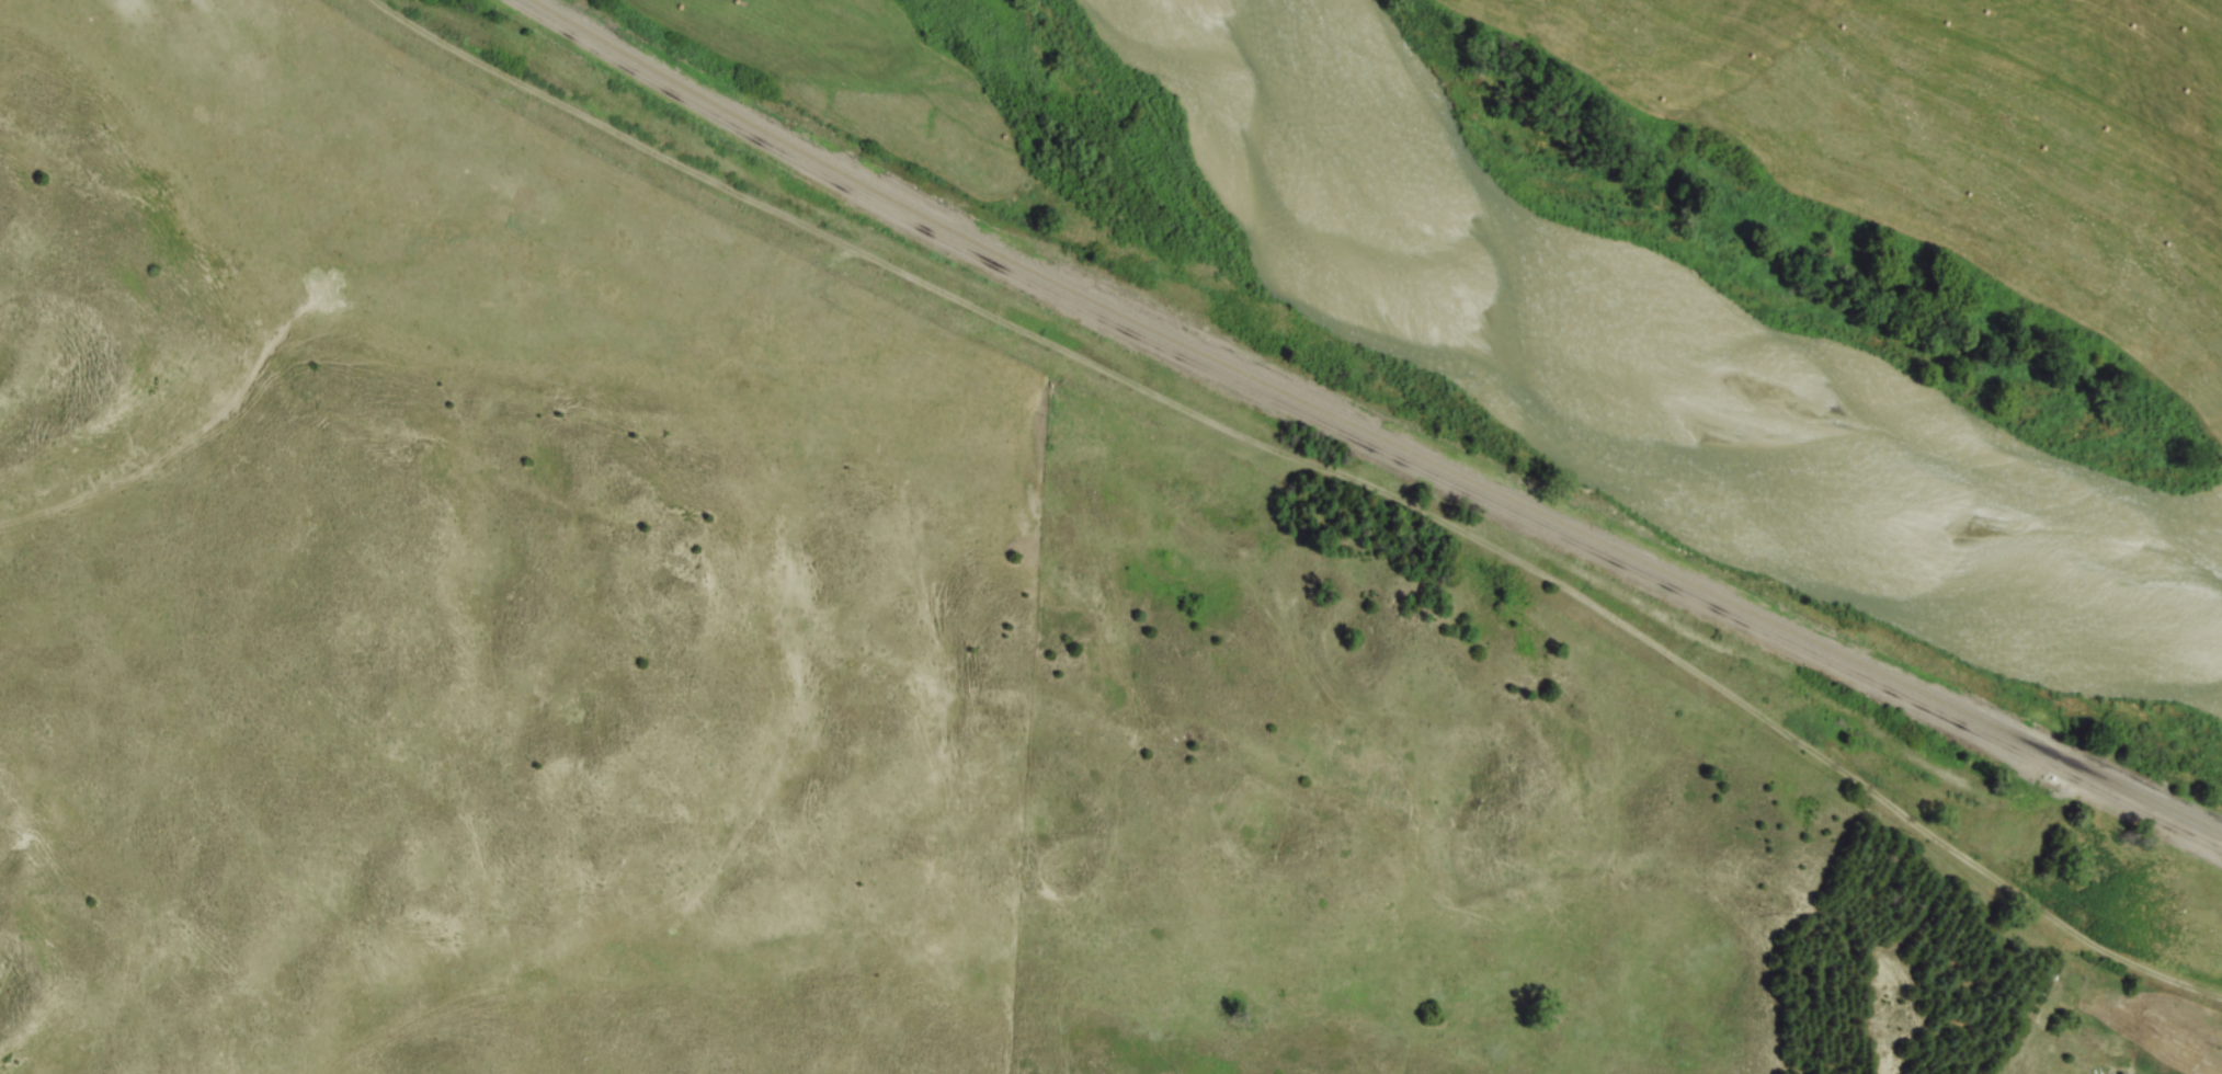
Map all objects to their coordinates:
river: (1652, 396)
railway: (1370, 435)

